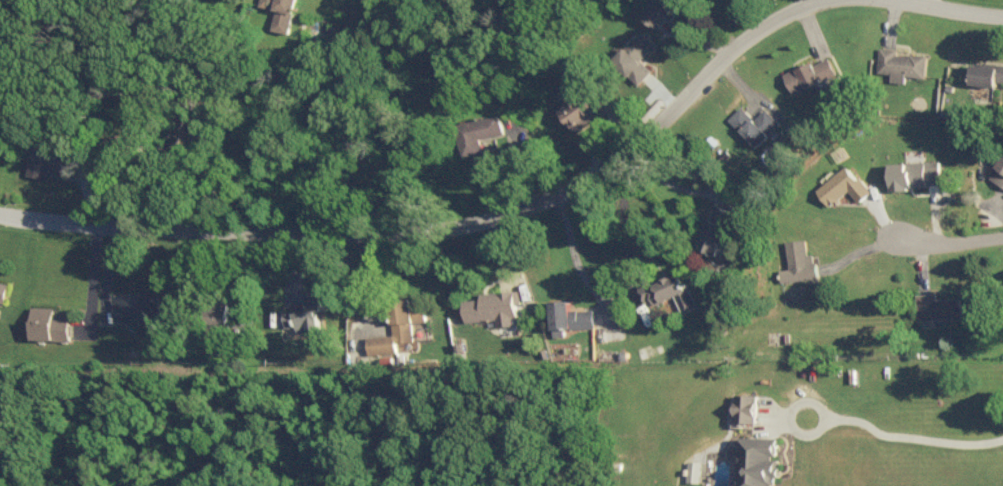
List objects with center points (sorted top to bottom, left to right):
road: (991, 1)
building: (657, 11)
building: (281, 13)
building: (8, 30)
building: (636, 56)
building: (900, 63)
building: (811, 72)
building: (988, 72)
building: (582, 104)
building: (755, 124)
building: (482, 131)
building: (50, 159)
building: (999, 171)
building: (914, 172)
building: (845, 184)
building: (718, 228)
road: (945, 232)
road: (432, 236)
road: (623, 237)
road: (865, 248)
road: (572, 252)
building: (801, 261)
building: (3, 289)
building: (668, 289)
building: (938, 304)
building: (137, 305)
building: (494, 306)
building: (307, 312)
building: (570, 316)
building: (221, 320)
building: (48, 323)
building: (395, 327)
building: (746, 406)
road: (898, 436)
building: (758, 460)
building: (693, 470)

